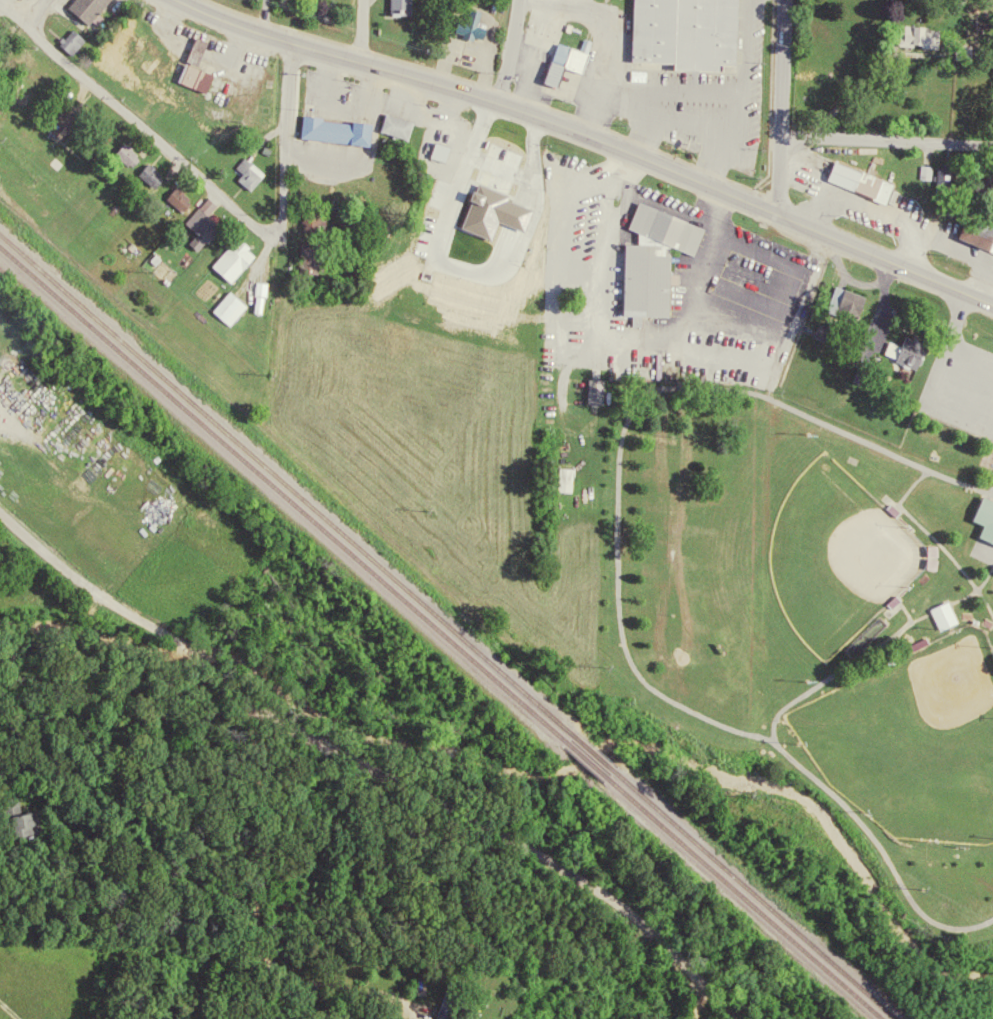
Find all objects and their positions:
building: (394, 5)
building: (410, 6)
building: (84, 7)
road: (38, 15)
road: (14, 18)
road: (265, 18)
building: (467, 23)
road: (361, 31)
building: (682, 31)
building: (928, 36)
building: (68, 38)
building: (80, 41)
road: (510, 52)
building: (568, 52)
building: (206, 68)
building: (192, 75)
road: (781, 106)
building: (392, 123)
building: (406, 126)
building: (332, 127)
road: (590, 136)
road: (886, 141)
building: (436, 149)
building: (451, 151)
building: (123, 152)
building: (513, 153)
building: (137, 155)
building: (245, 172)
building: (148, 174)
building: (258, 174)
building: (942, 174)
building: (159, 175)
building: (857, 179)
building: (982, 181)
building: (175, 198)
building: (187, 199)
road: (221, 199)
building: (505, 212)
building: (214, 222)
building: (200, 223)
building: (975, 232)
building: (306, 253)
building: (320, 256)
building: (229, 257)
building: (649, 257)
building: (242, 261)
building: (268, 297)
building: (842, 302)
building: (227, 306)
building: (238, 307)
road: (957, 311)
building: (832, 332)
road: (948, 340)
building: (905, 350)
building: (921, 352)
road: (969, 360)
building: (867, 375)
parking lot: (959, 386)
building: (591, 388)
building: (604, 391)
road: (939, 400)
road: (622, 422)
building: (561, 475)
railway: (279, 483)
road: (989, 483)
road: (908, 485)
railway: (277, 493)
building: (983, 515)
road: (945, 554)
park: (791, 556)
road: (77, 582)
road: (189, 650)
road: (774, 740)
park: (910, 742)
railway: (584, 753)
railway: (577, 758)
road: (485, 824)
railway: (750, 896)
railway: (741, 897)
building: (443, 1001)

